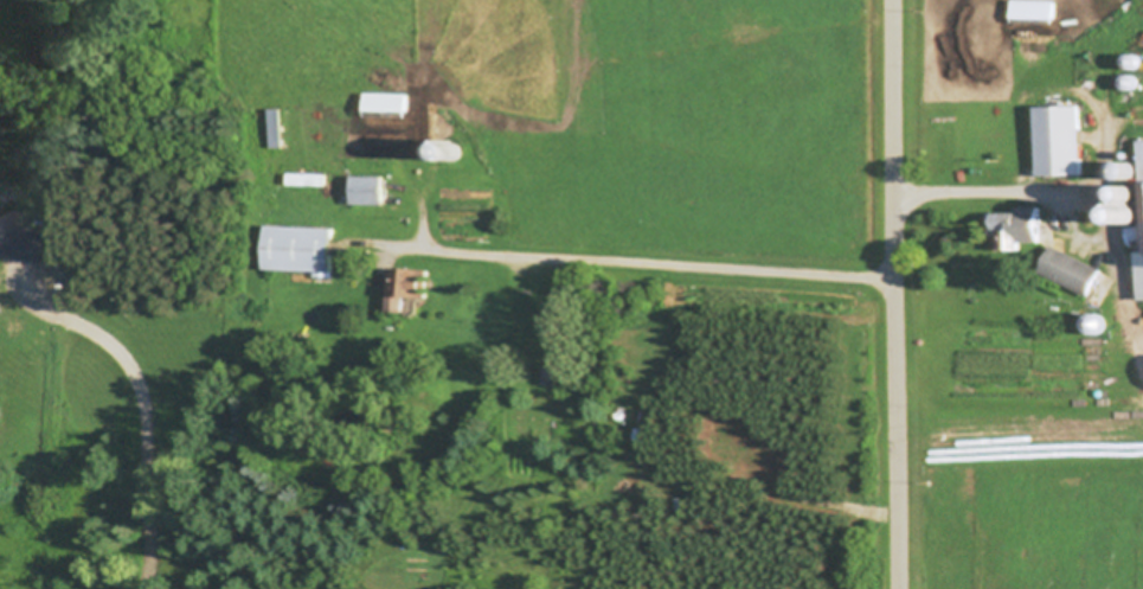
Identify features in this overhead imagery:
building: (1035, 11)
building: (1135, 60)
building: (1132, 82)
building: (387, 103)
building: (276, 127)
building: (1060, 141)
building: (454, 151)
building: (1142, 154)
building: (1129, 172)
building: (307, 179)
building: (367, 190)
building: (1130, 197)
building: (1132, 217)
building: (1016, 226)
building: (20, 237)
building: (300, 248)
road: (660, 267)
building: (1070, 270)
building: (1141, 270)
building: (410, 287)
road: (893, 294)
building: (1096, 324)

